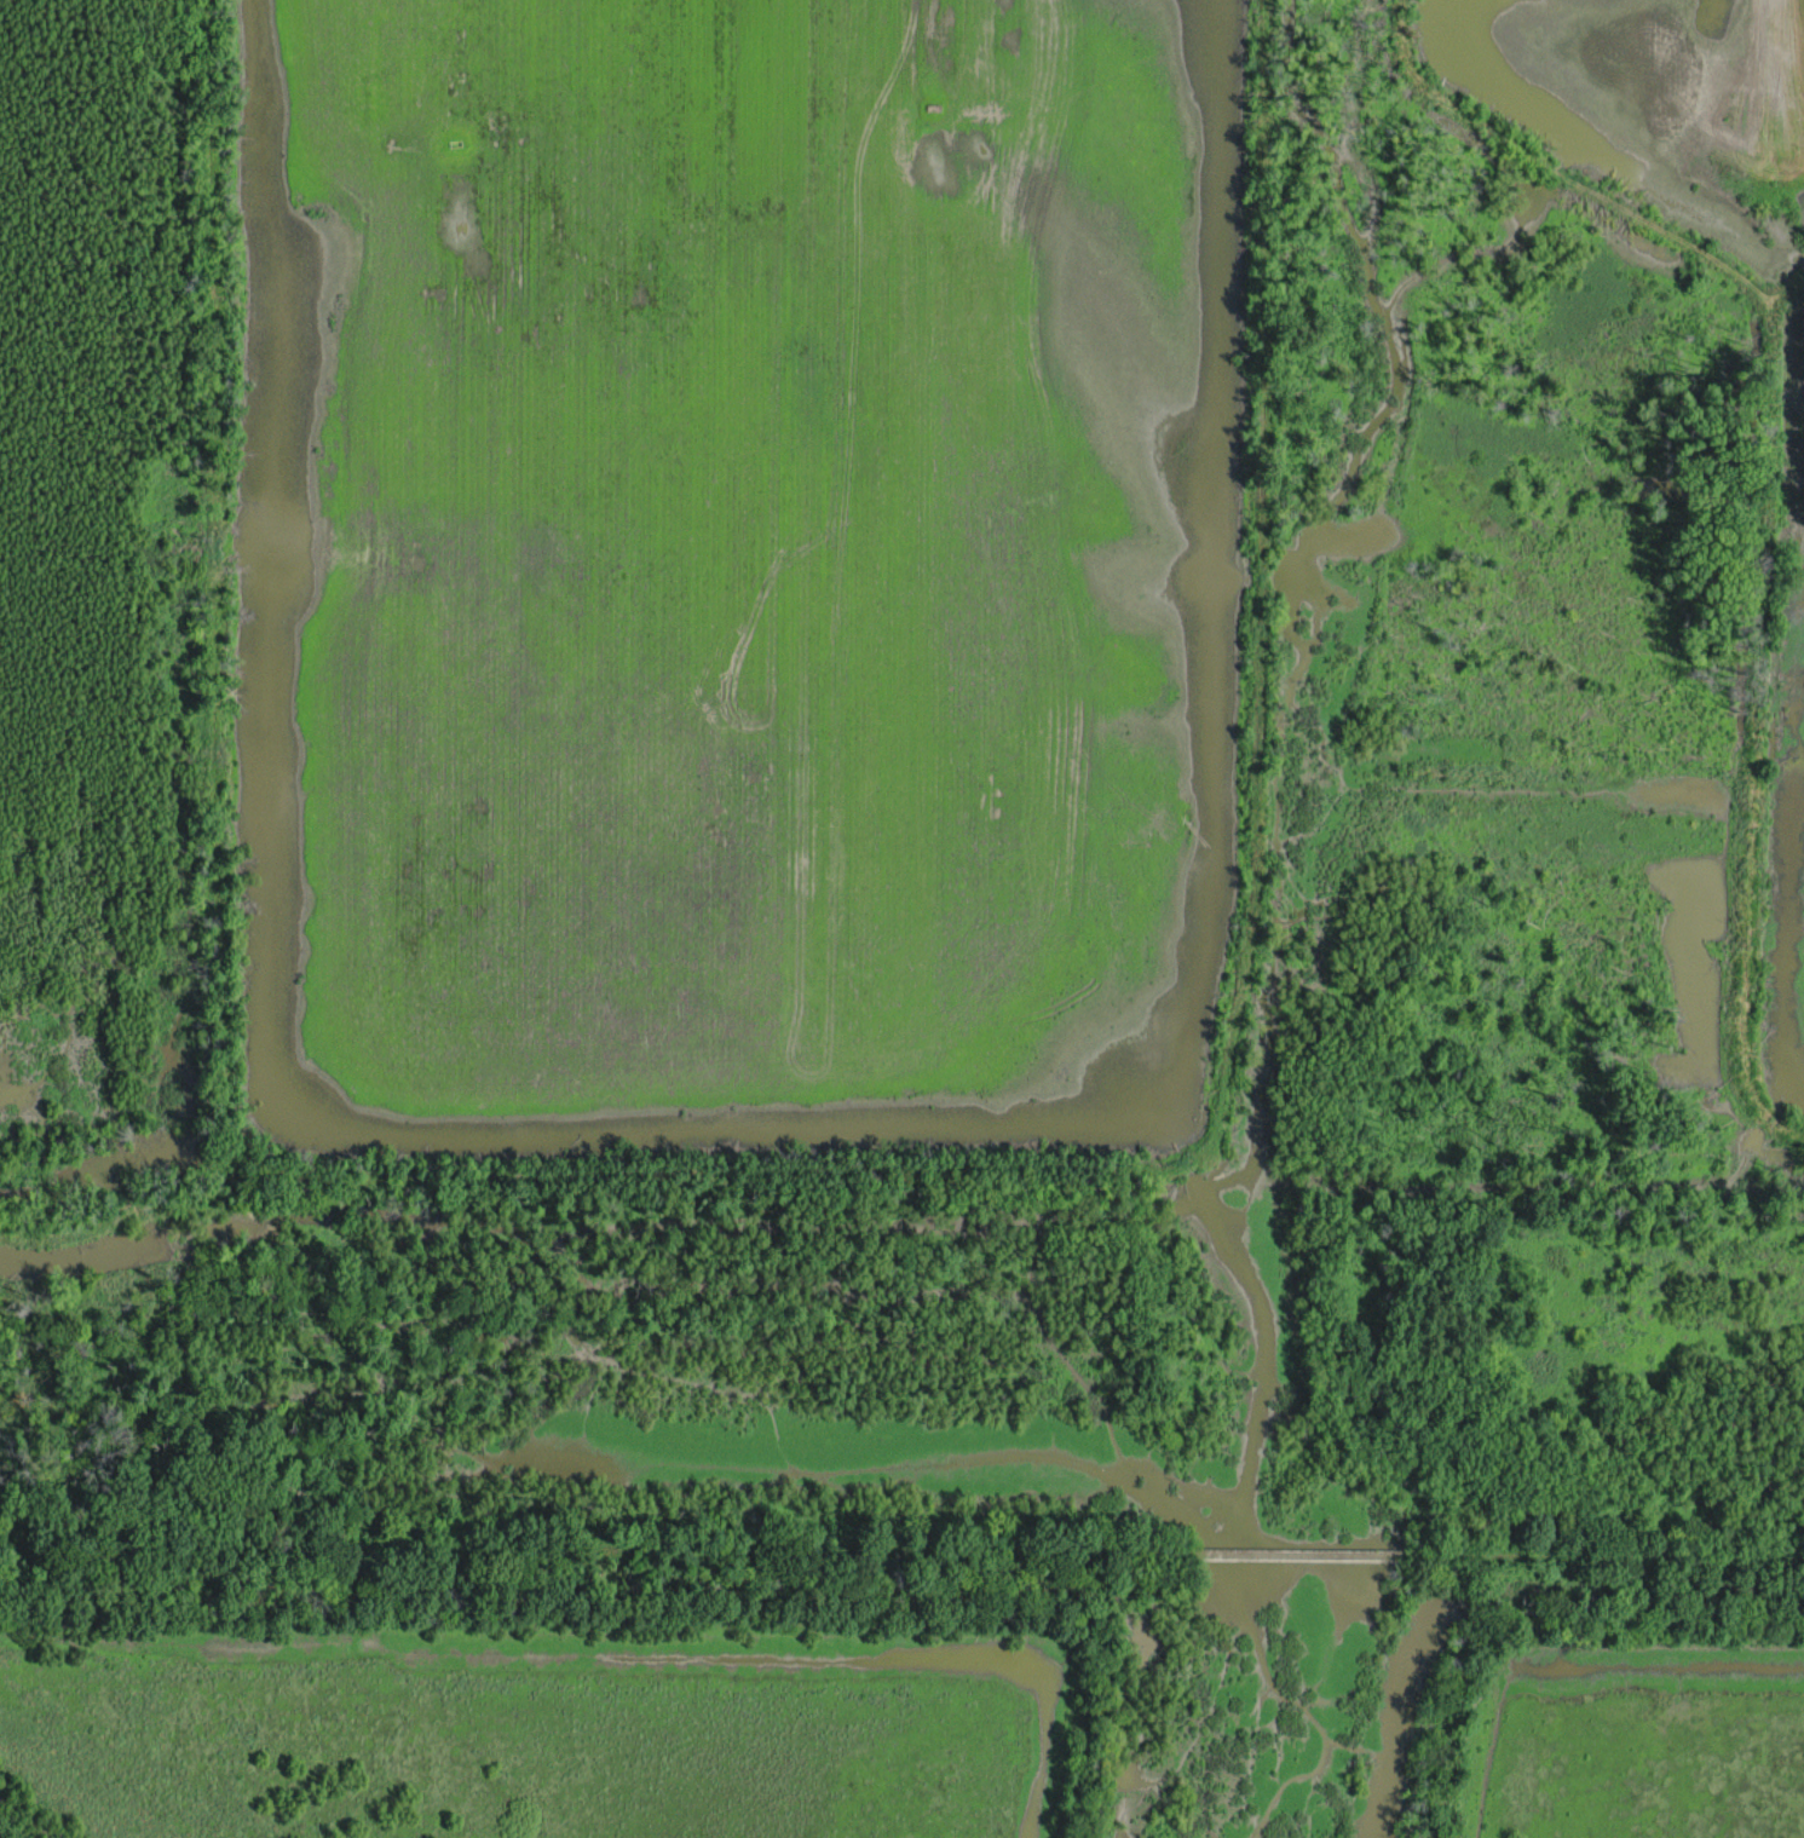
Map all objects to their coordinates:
crop: (529, 1740)

